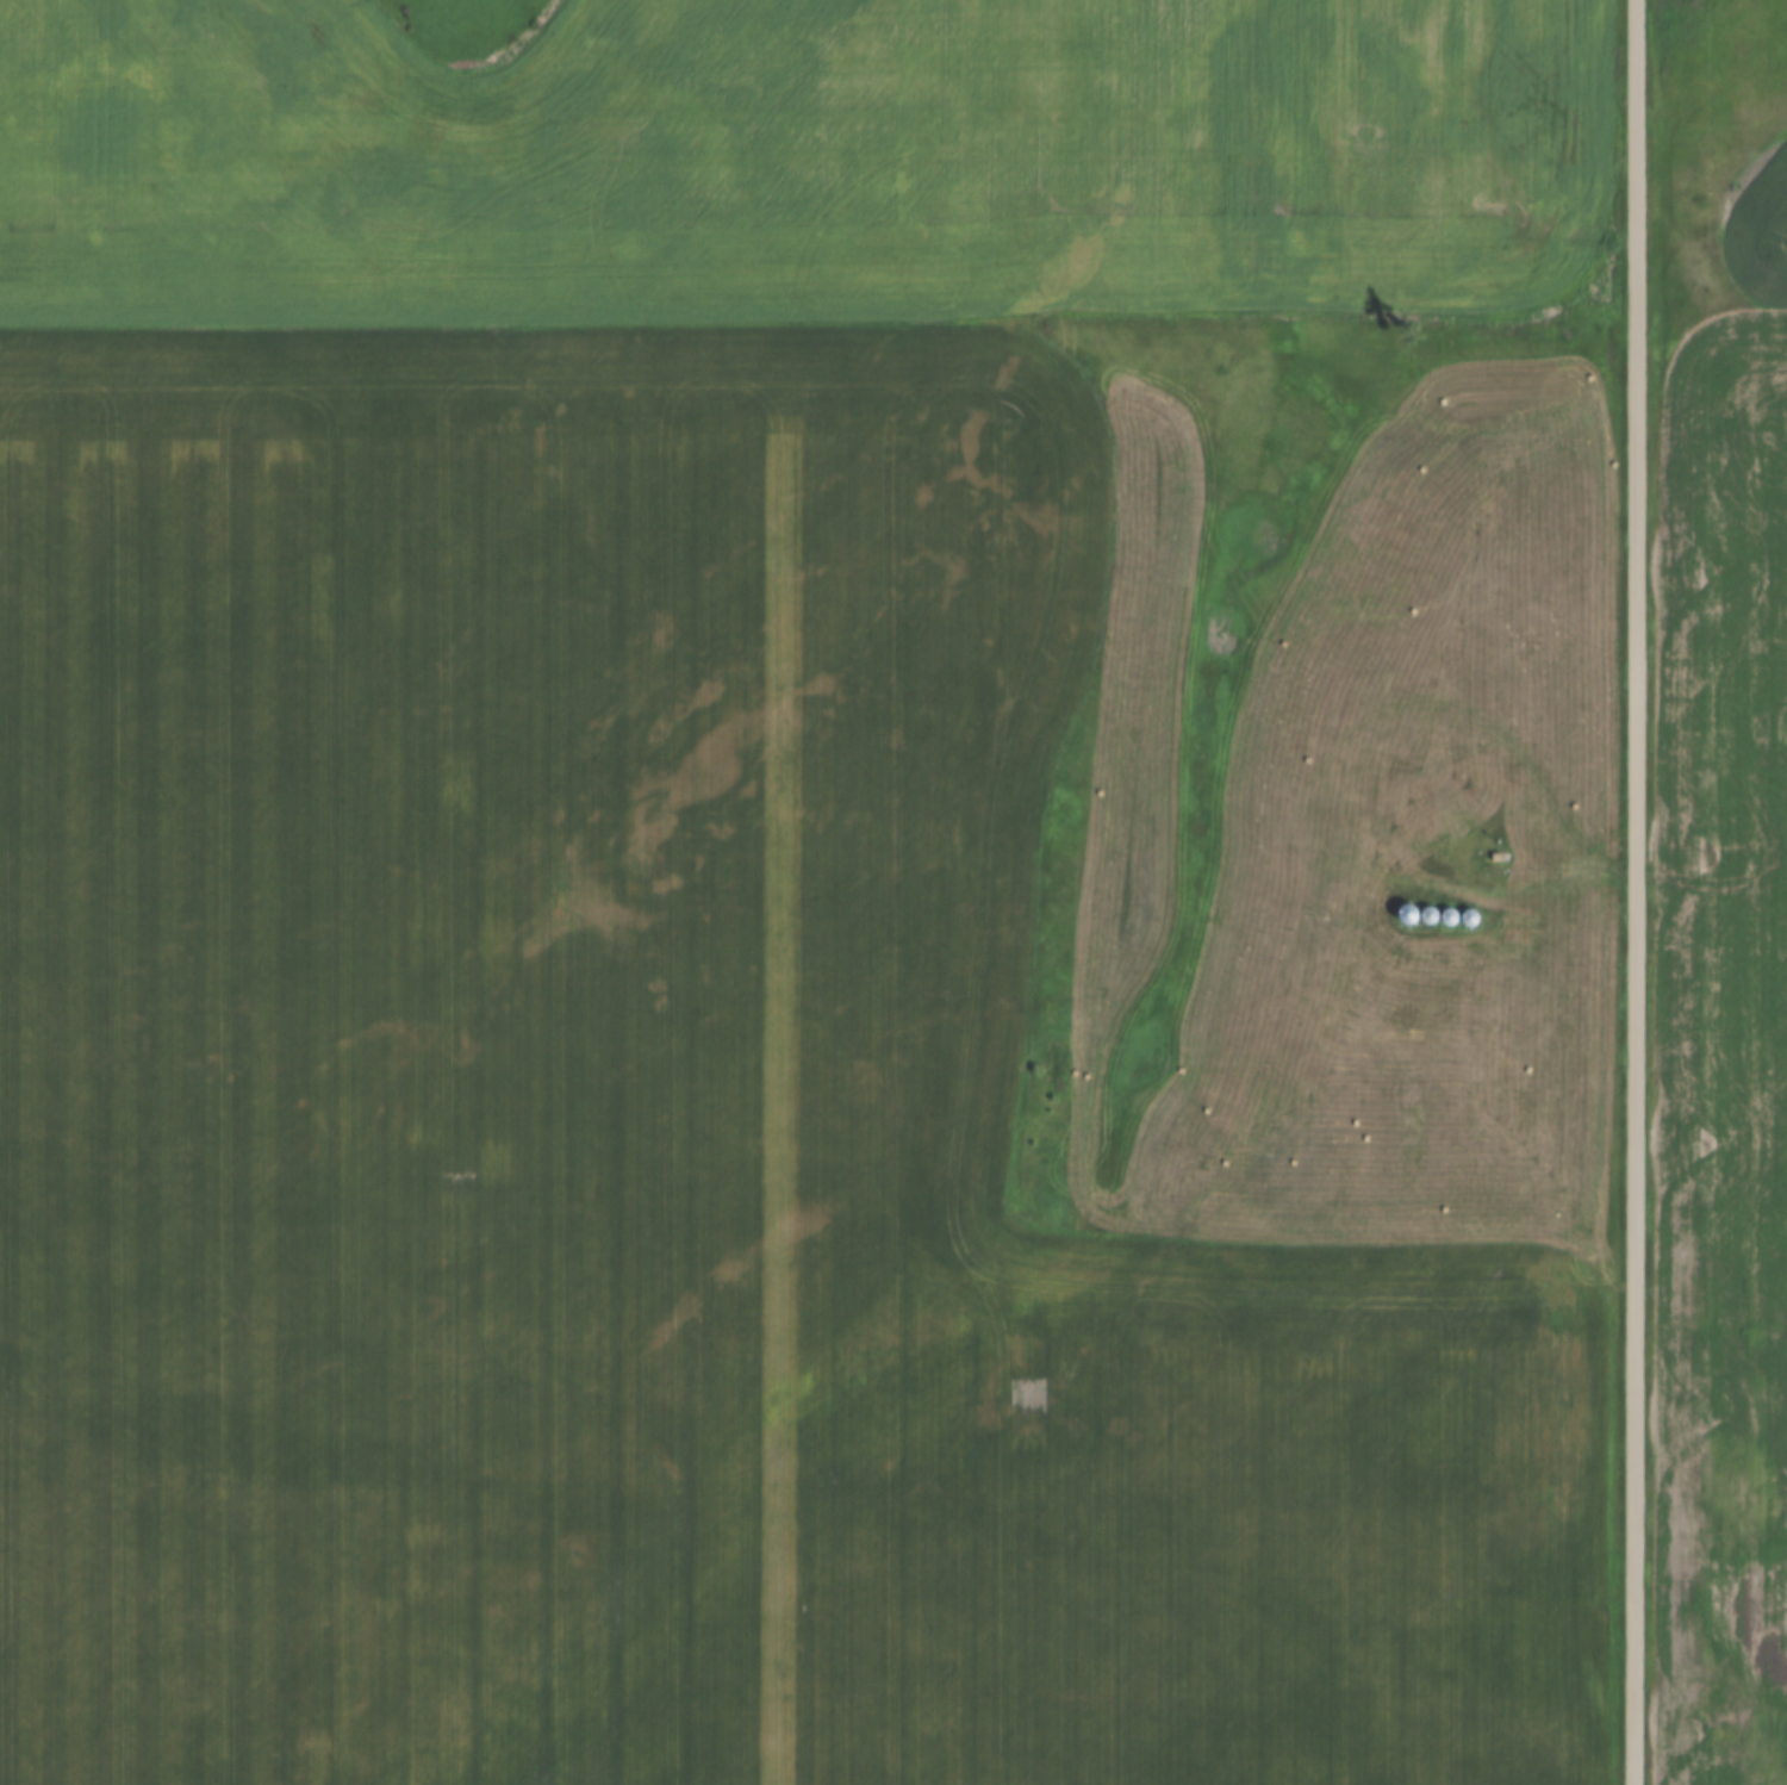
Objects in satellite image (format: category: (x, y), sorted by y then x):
road: (1532, 865)
road: (1632, 893)

